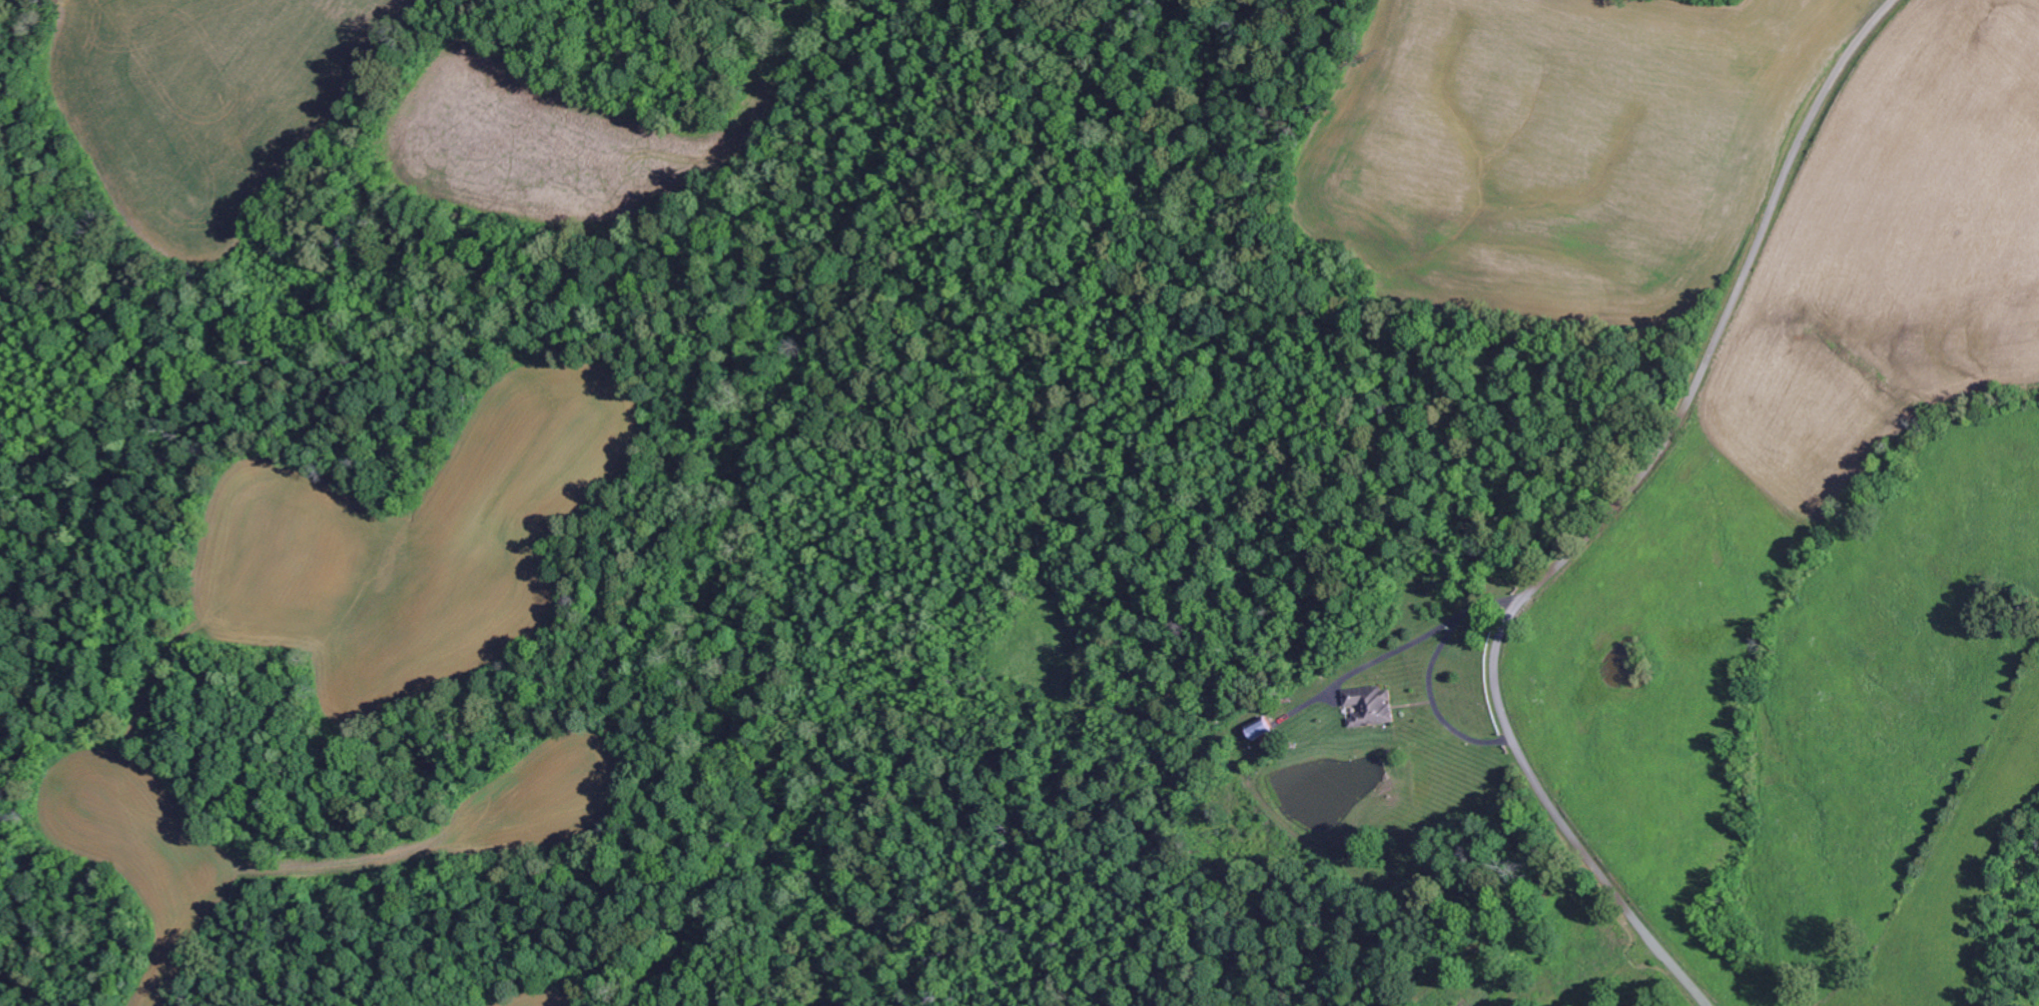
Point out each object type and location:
road: (1644, 471)
building: (1373, 708)
building: (1265, 732)
road: (1669, 960)

